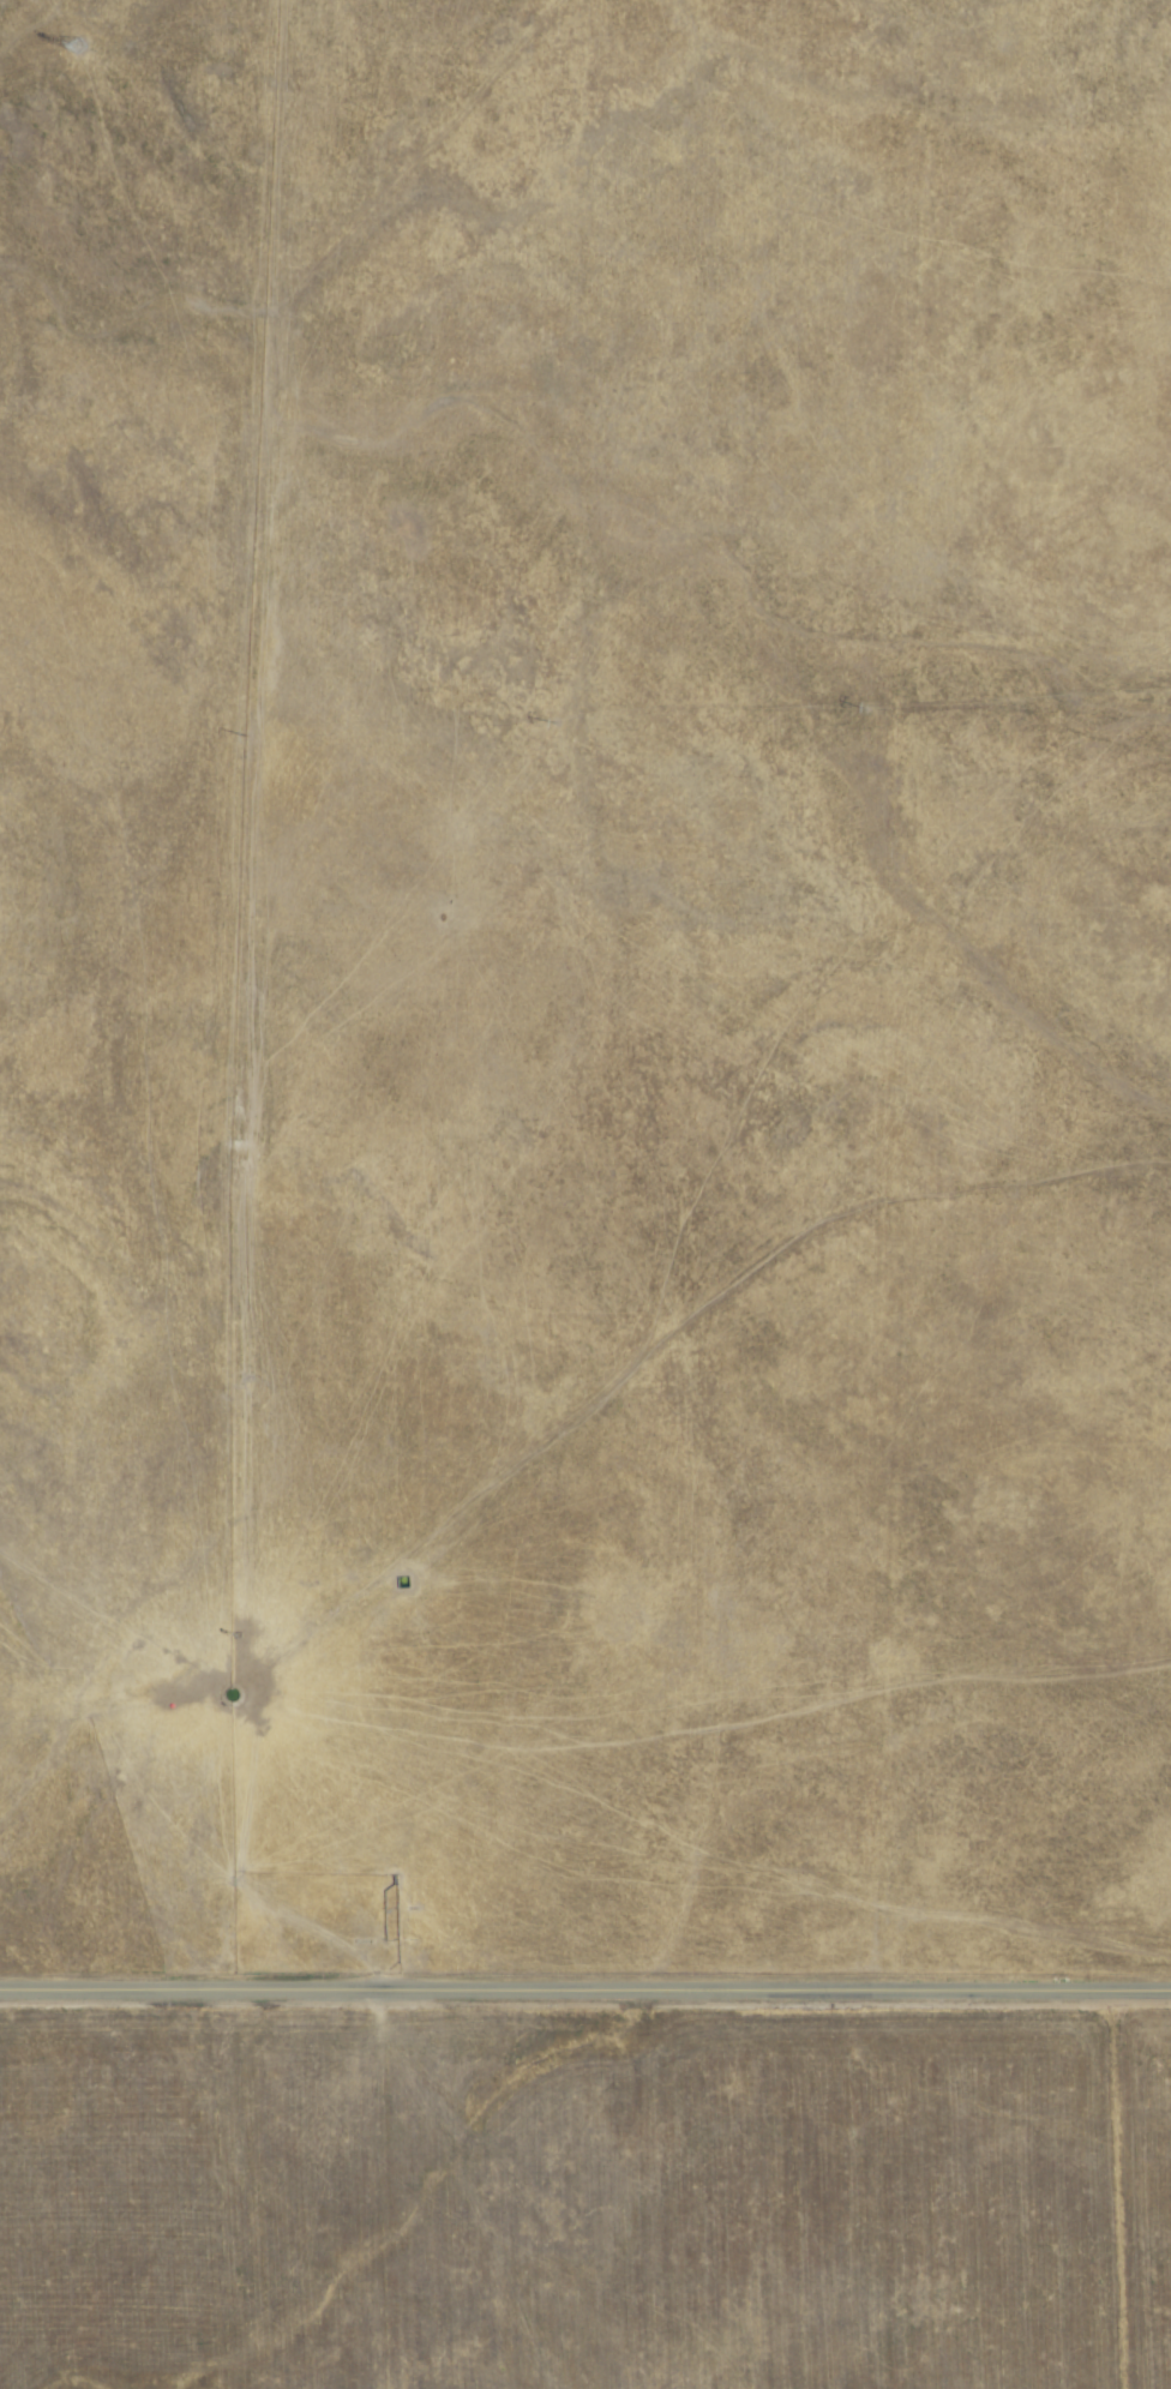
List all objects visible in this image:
power tower: (77, 46)
road: (585, 1992)

